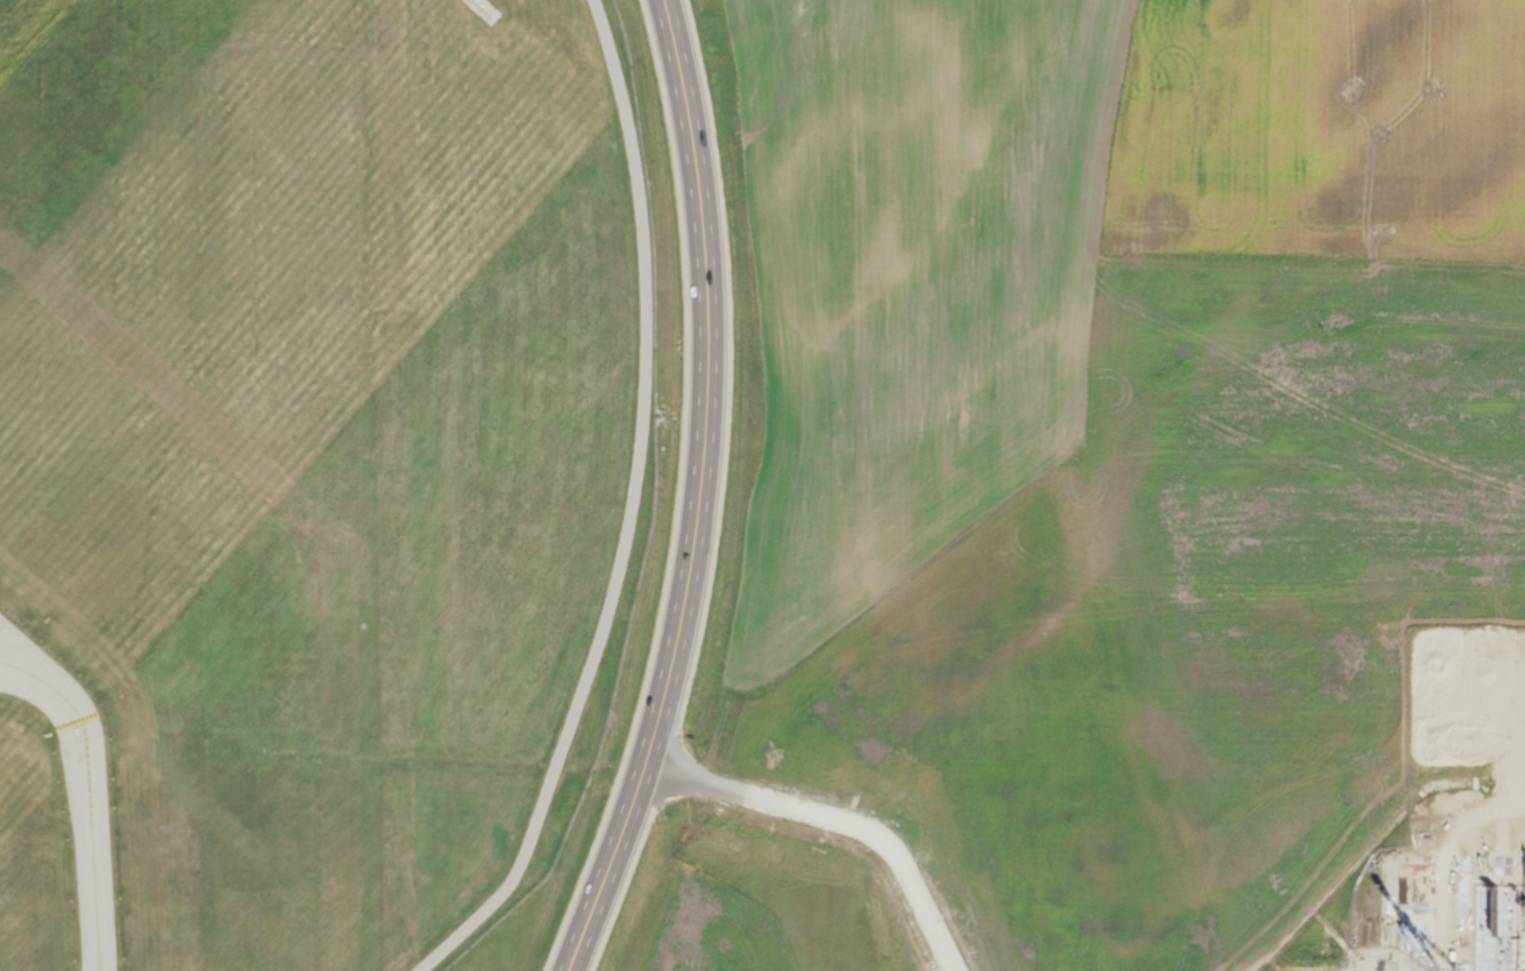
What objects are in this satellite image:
airport: (327, 473)
road: (697, 493)
crop: (1105, 495)
road: (1230, 670)
airport taxiway: (45, 681)
road: (831, 820)
airport taxiway: (90, 844)

